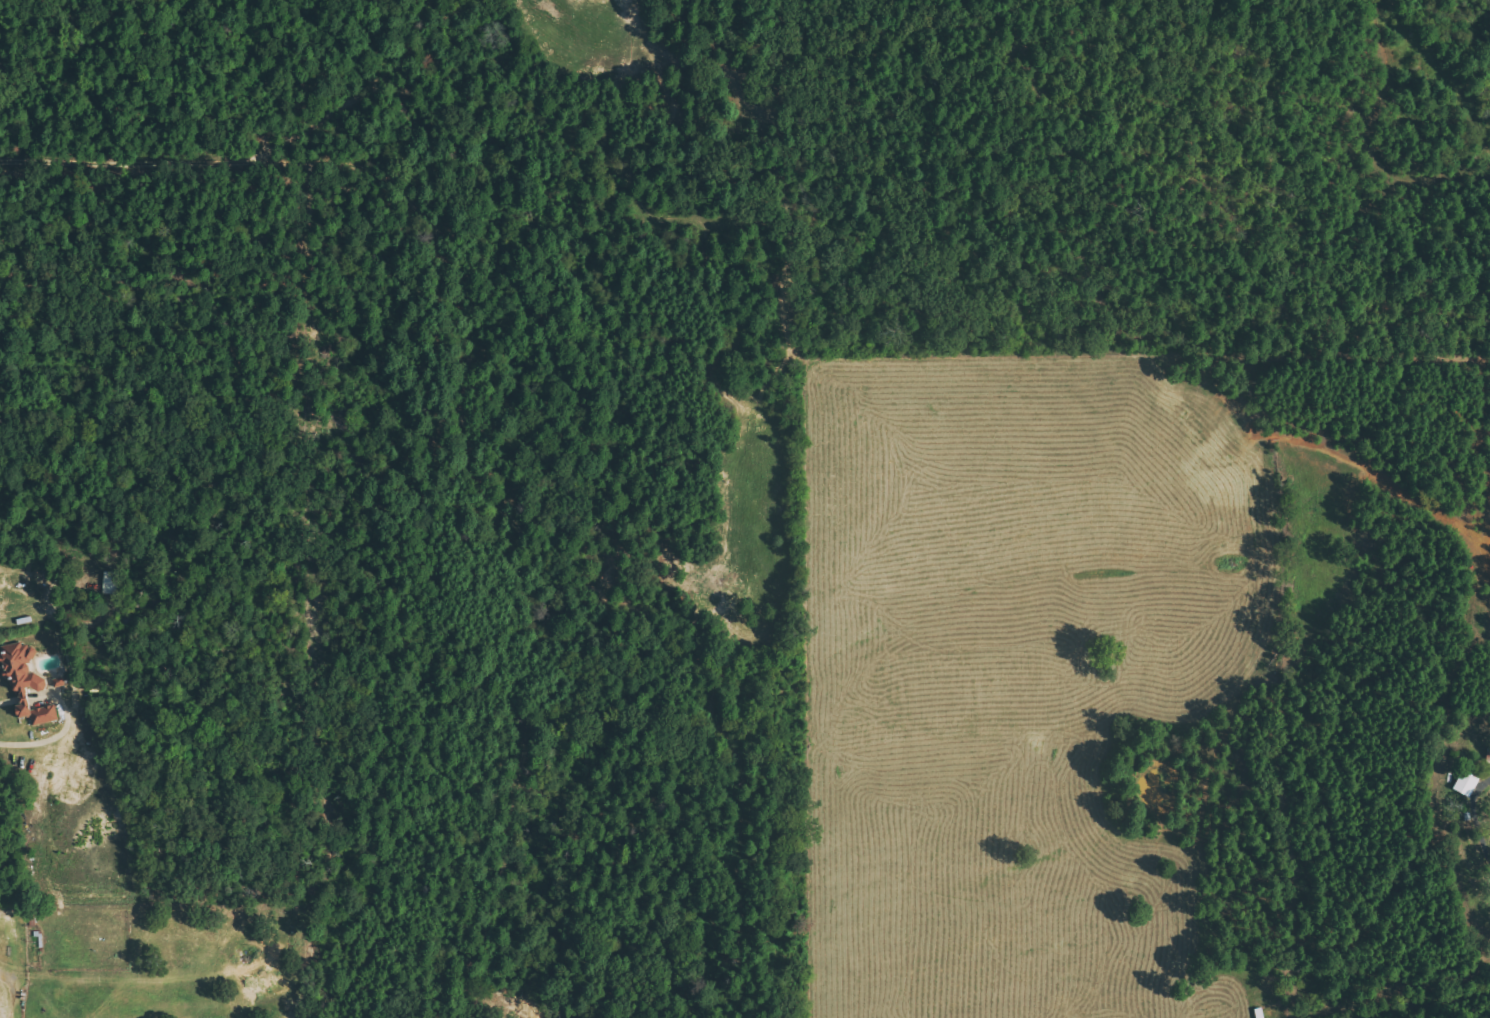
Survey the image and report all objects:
building: (110, 582)
building: (25, 674)
building: (38, 712)
building: (1488, 756)
building: (1467, 783)

